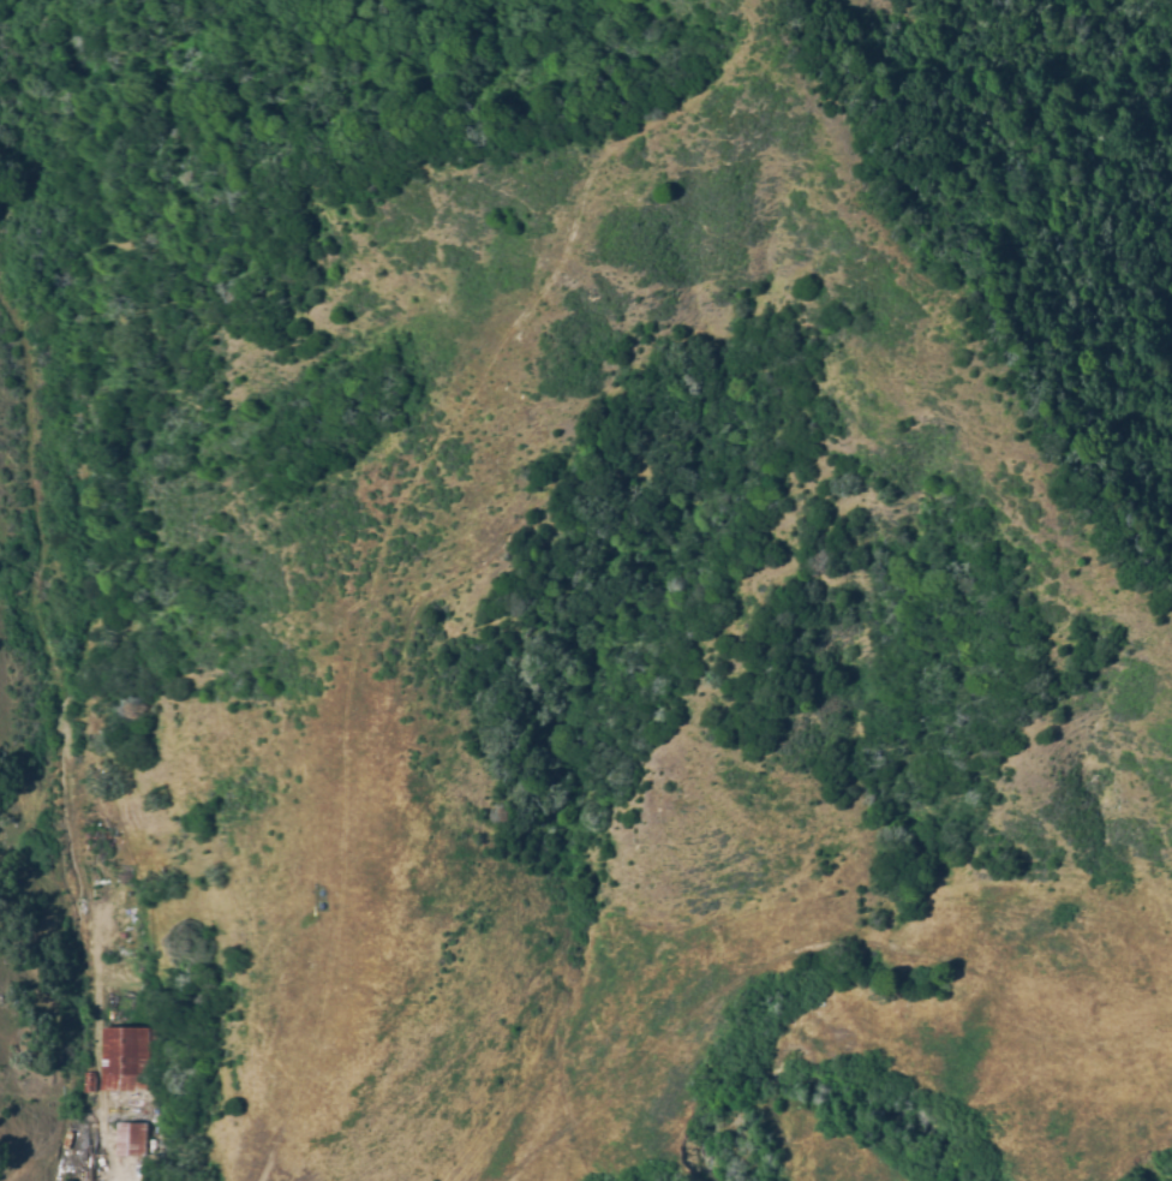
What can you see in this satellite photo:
building: (120, 1060)
building: (127, 1140)

